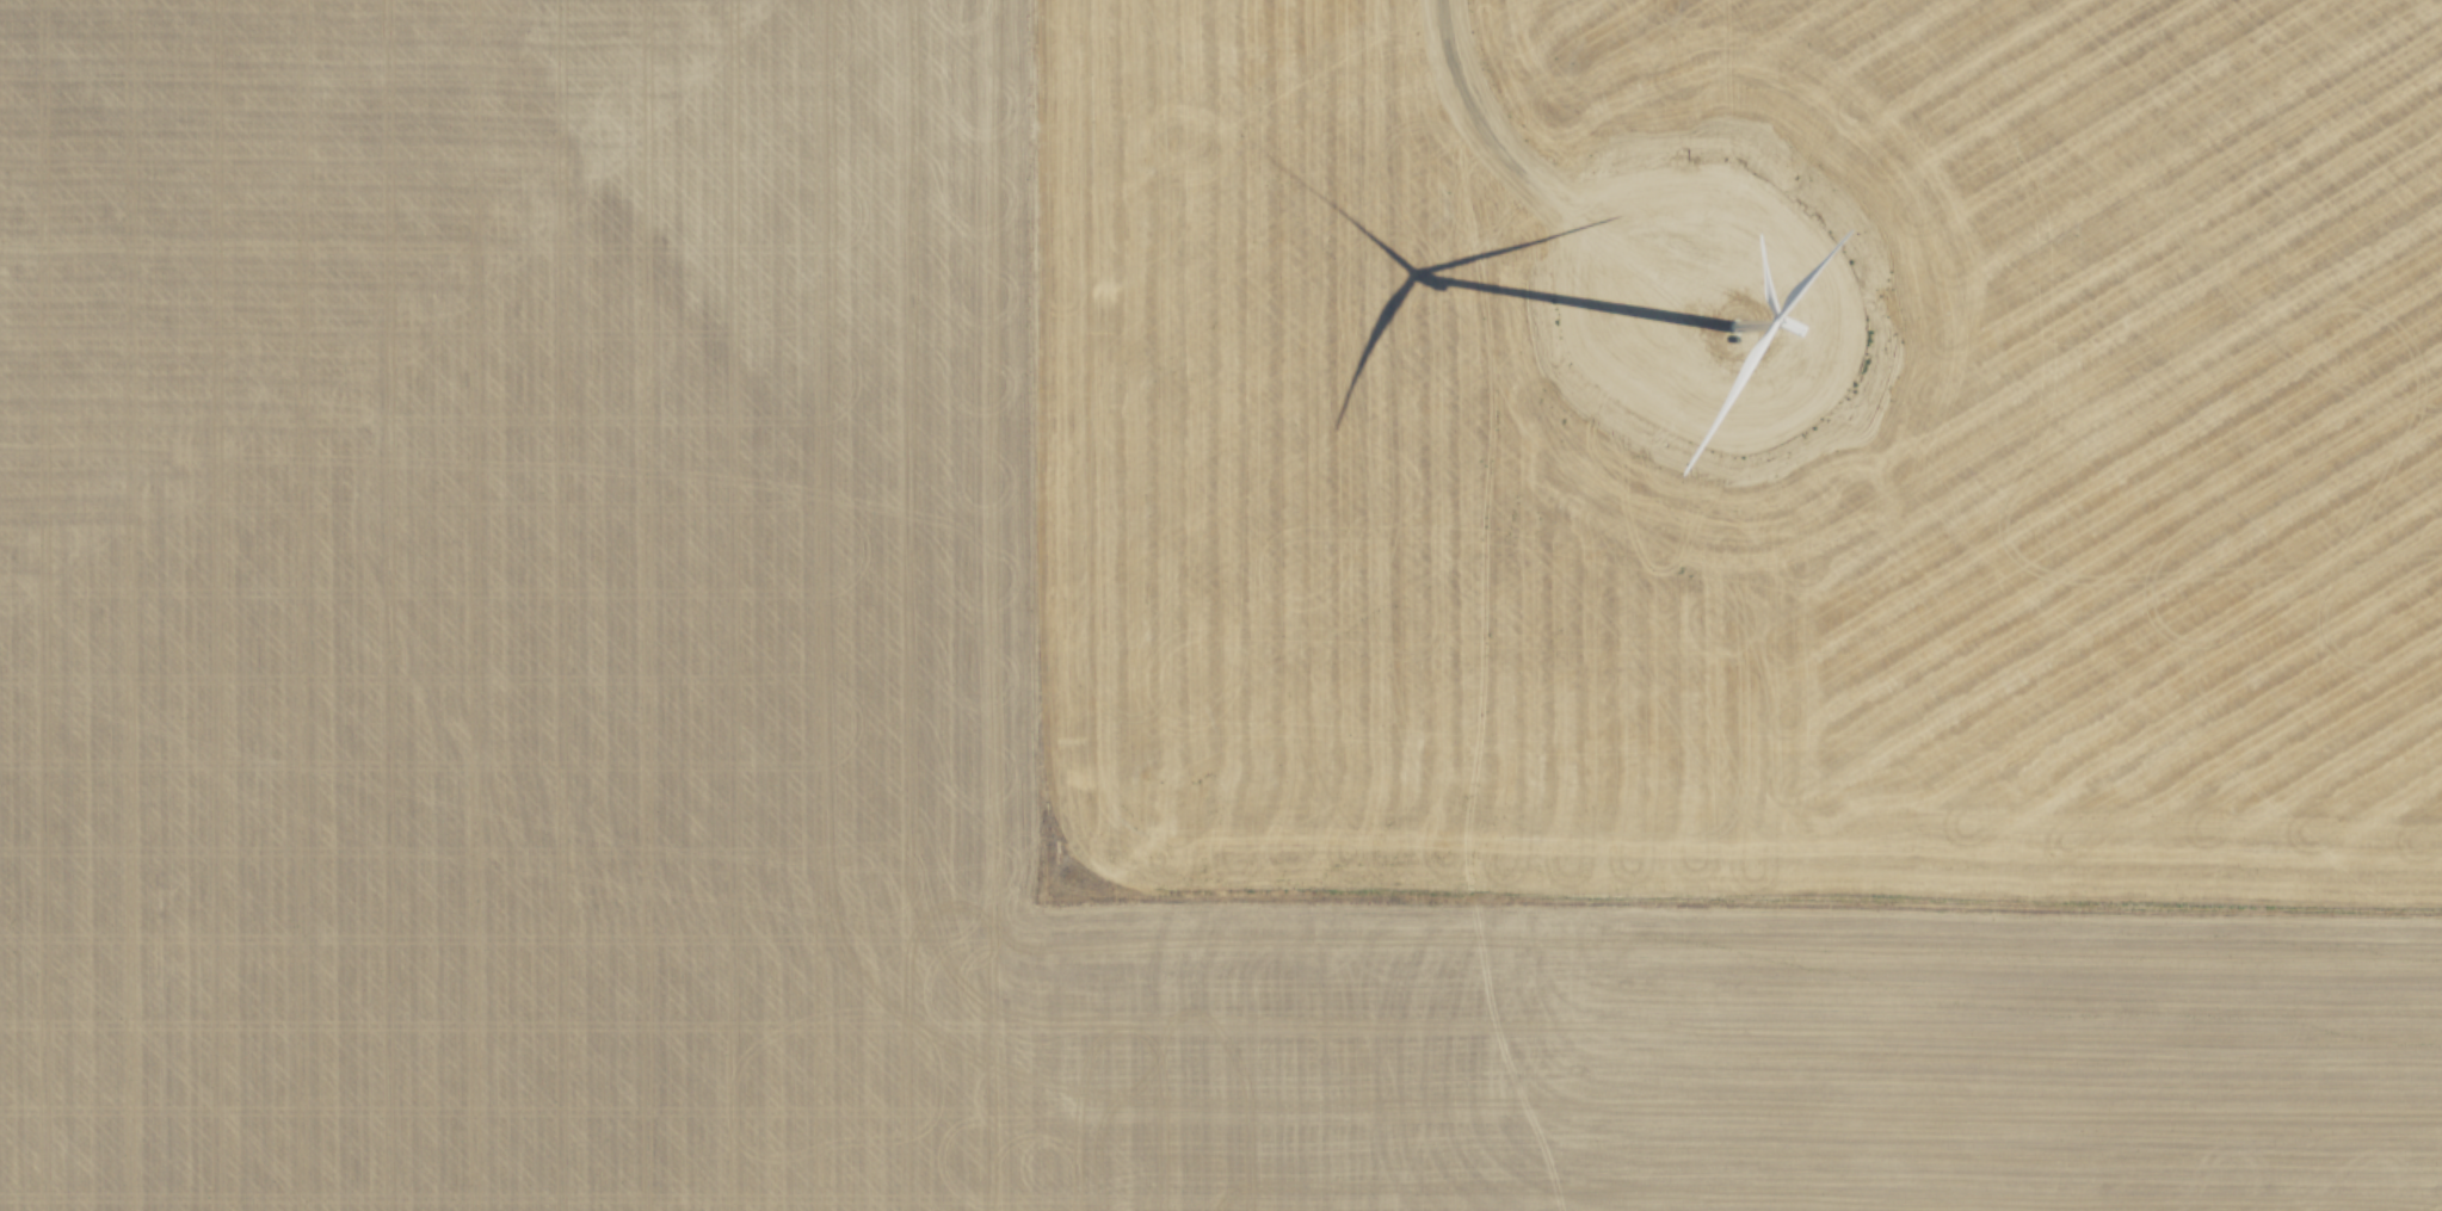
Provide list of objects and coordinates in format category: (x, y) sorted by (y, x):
wind turbine: (1732, 328)

